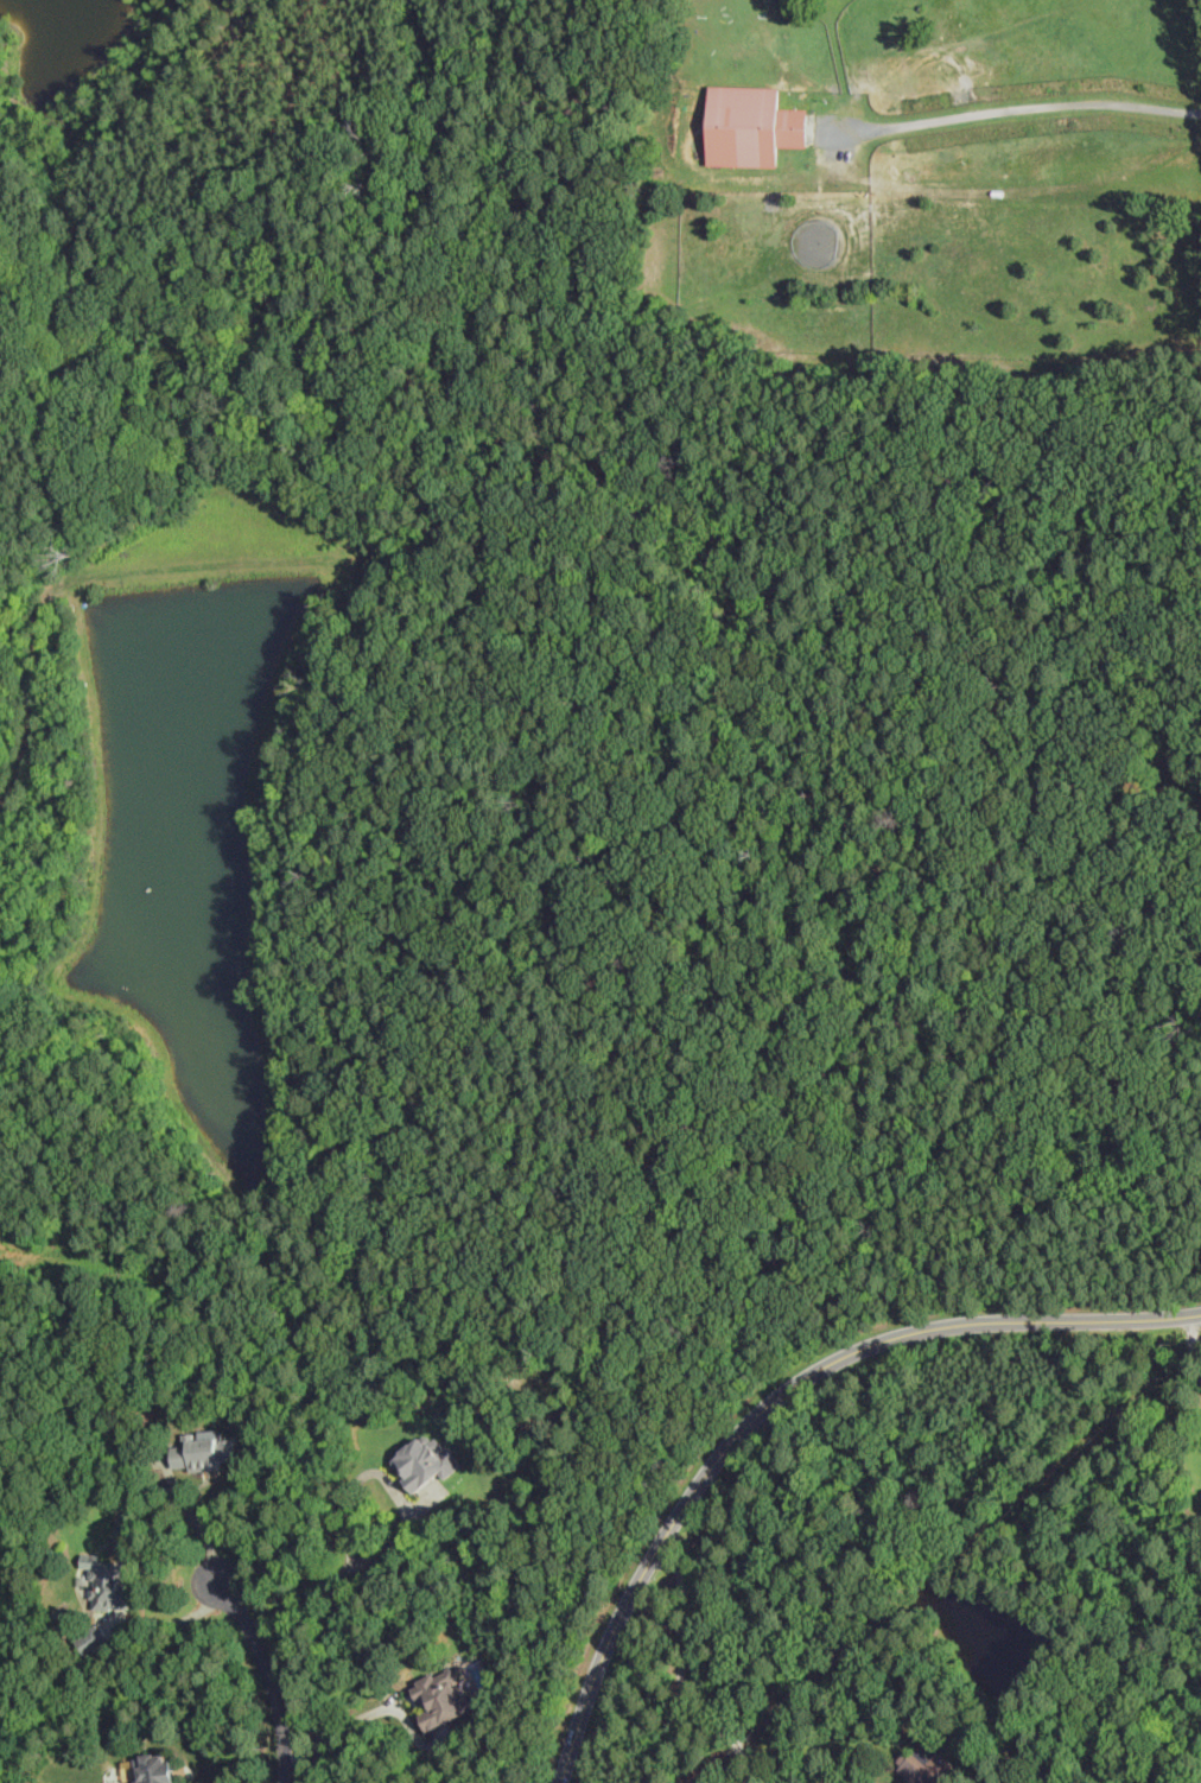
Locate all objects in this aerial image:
road: (1017, 108)
building: (750, 126)
road: (1194, 1344)
road: (776, 1402)
building: (205, 1454)
building: (426, 1462)
road: (192, 1512)
road: (407, 1533)
building: (108, 1582)
building: (94, 1641)
road: (272, 1670)
road: (682, 1675)
building: (441, 1698)
road: (347, 1725)
building: (924, 1765)
building: (158, 1768)

